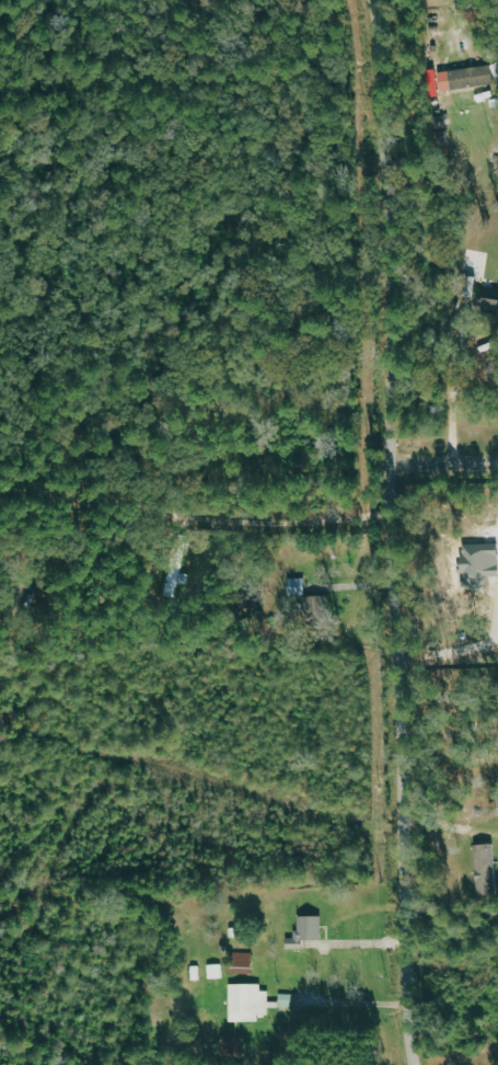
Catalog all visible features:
road: (467, 26)
building: (463, 79)
building: (488, 300)
road: (441, 470)
road: (224, 519)
road: (387, 532)
building: (182, 580)
building: (309, 600)
building: (497, 808)
building: (485, 869)
building: (305, 931)
building: (243, 963)
building: (216, 971)
building: (254, 1003)
road: (355, 1004)

